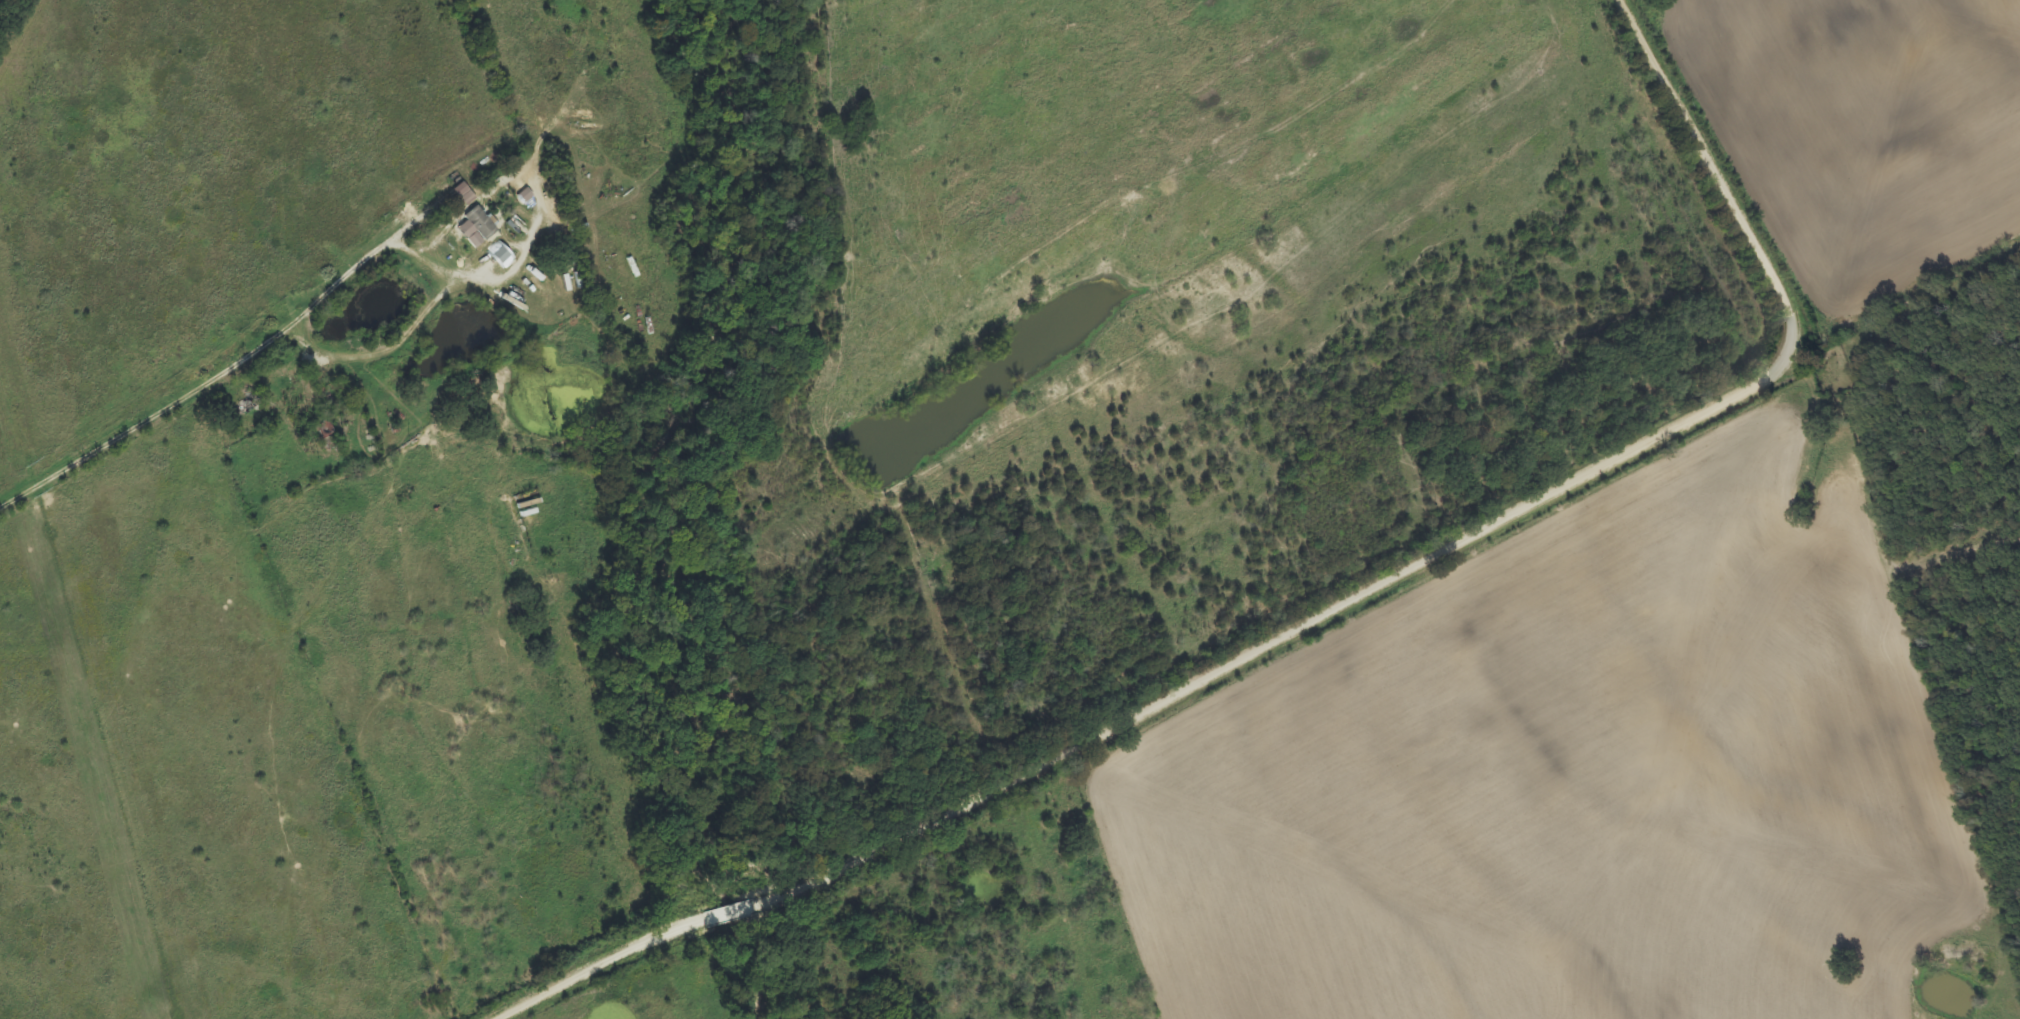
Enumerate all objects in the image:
building: (465, 195)
building: (526, 196)
building: (478, 228)
road: (1337, 612)

